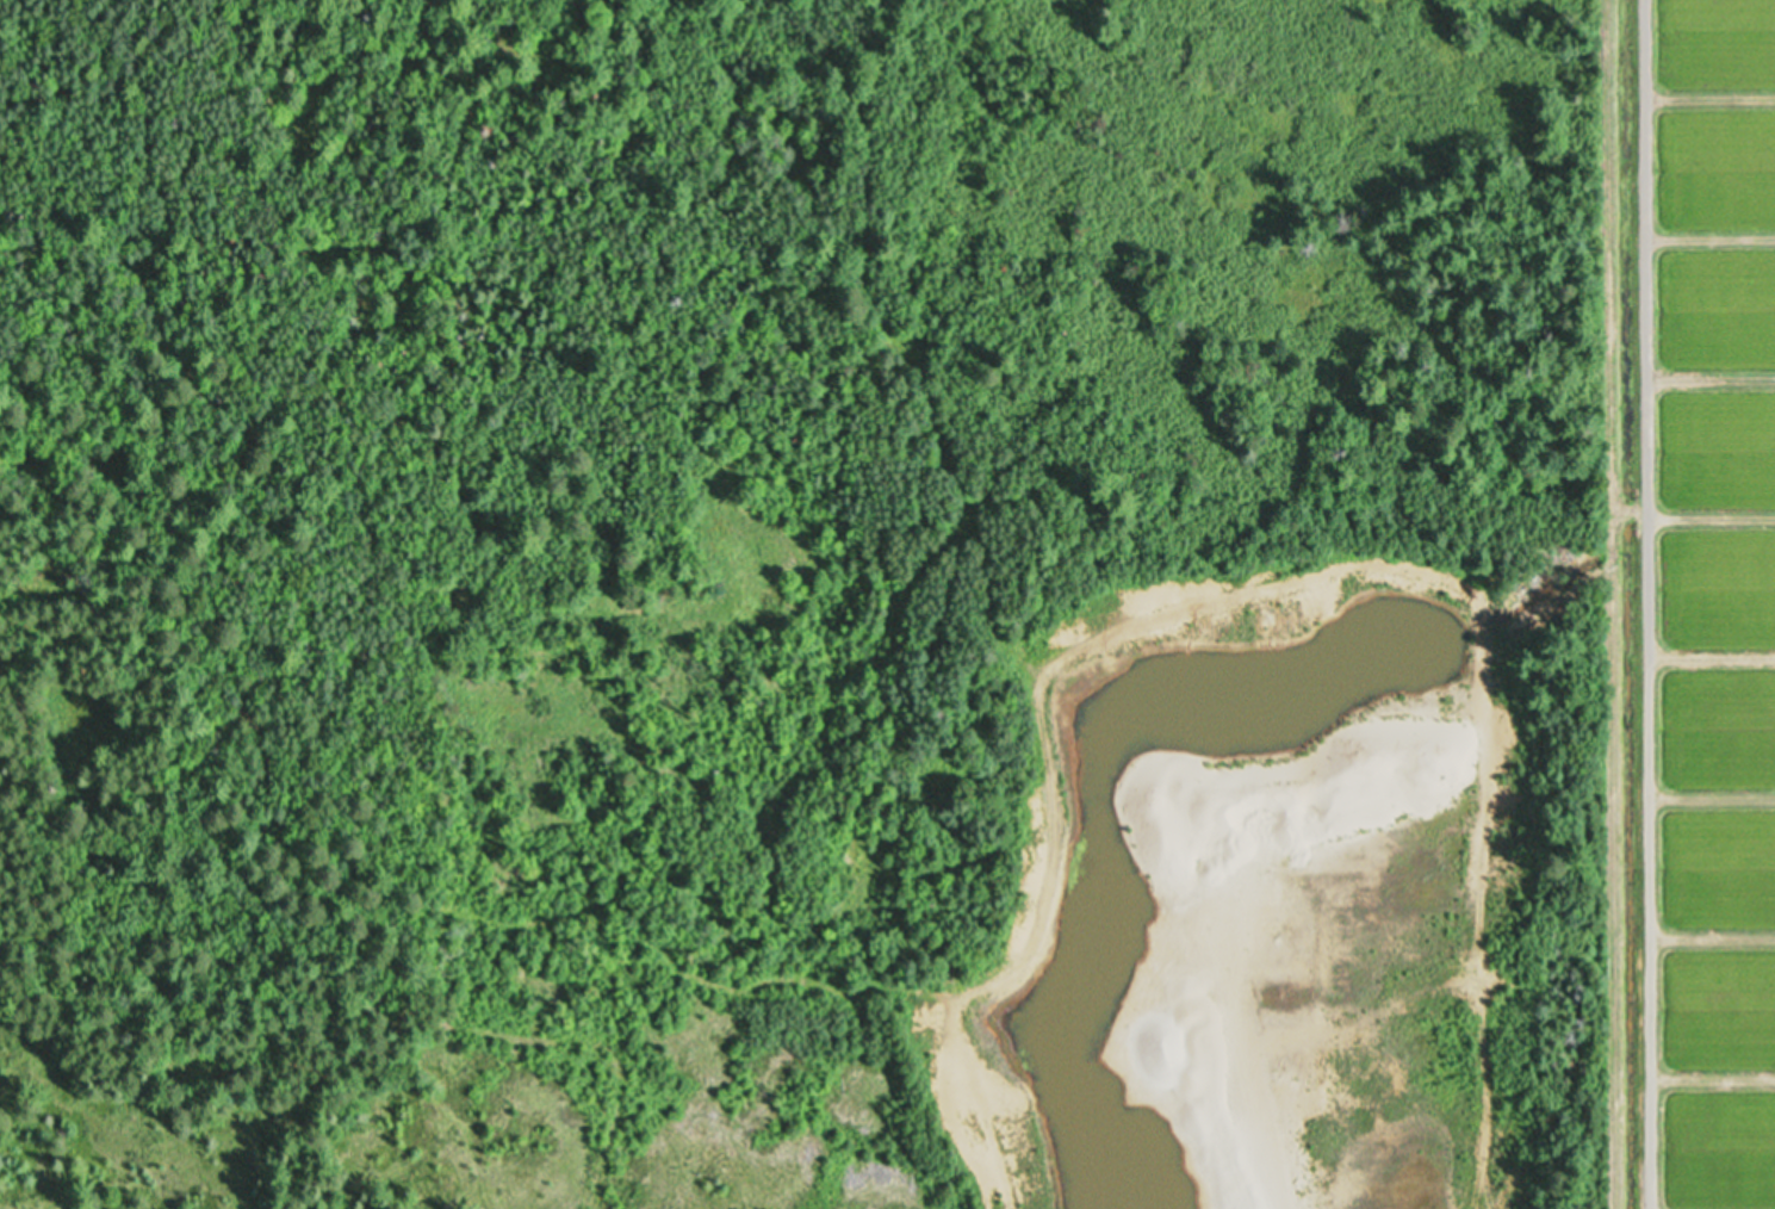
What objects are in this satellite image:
crop: (1692, 599)

